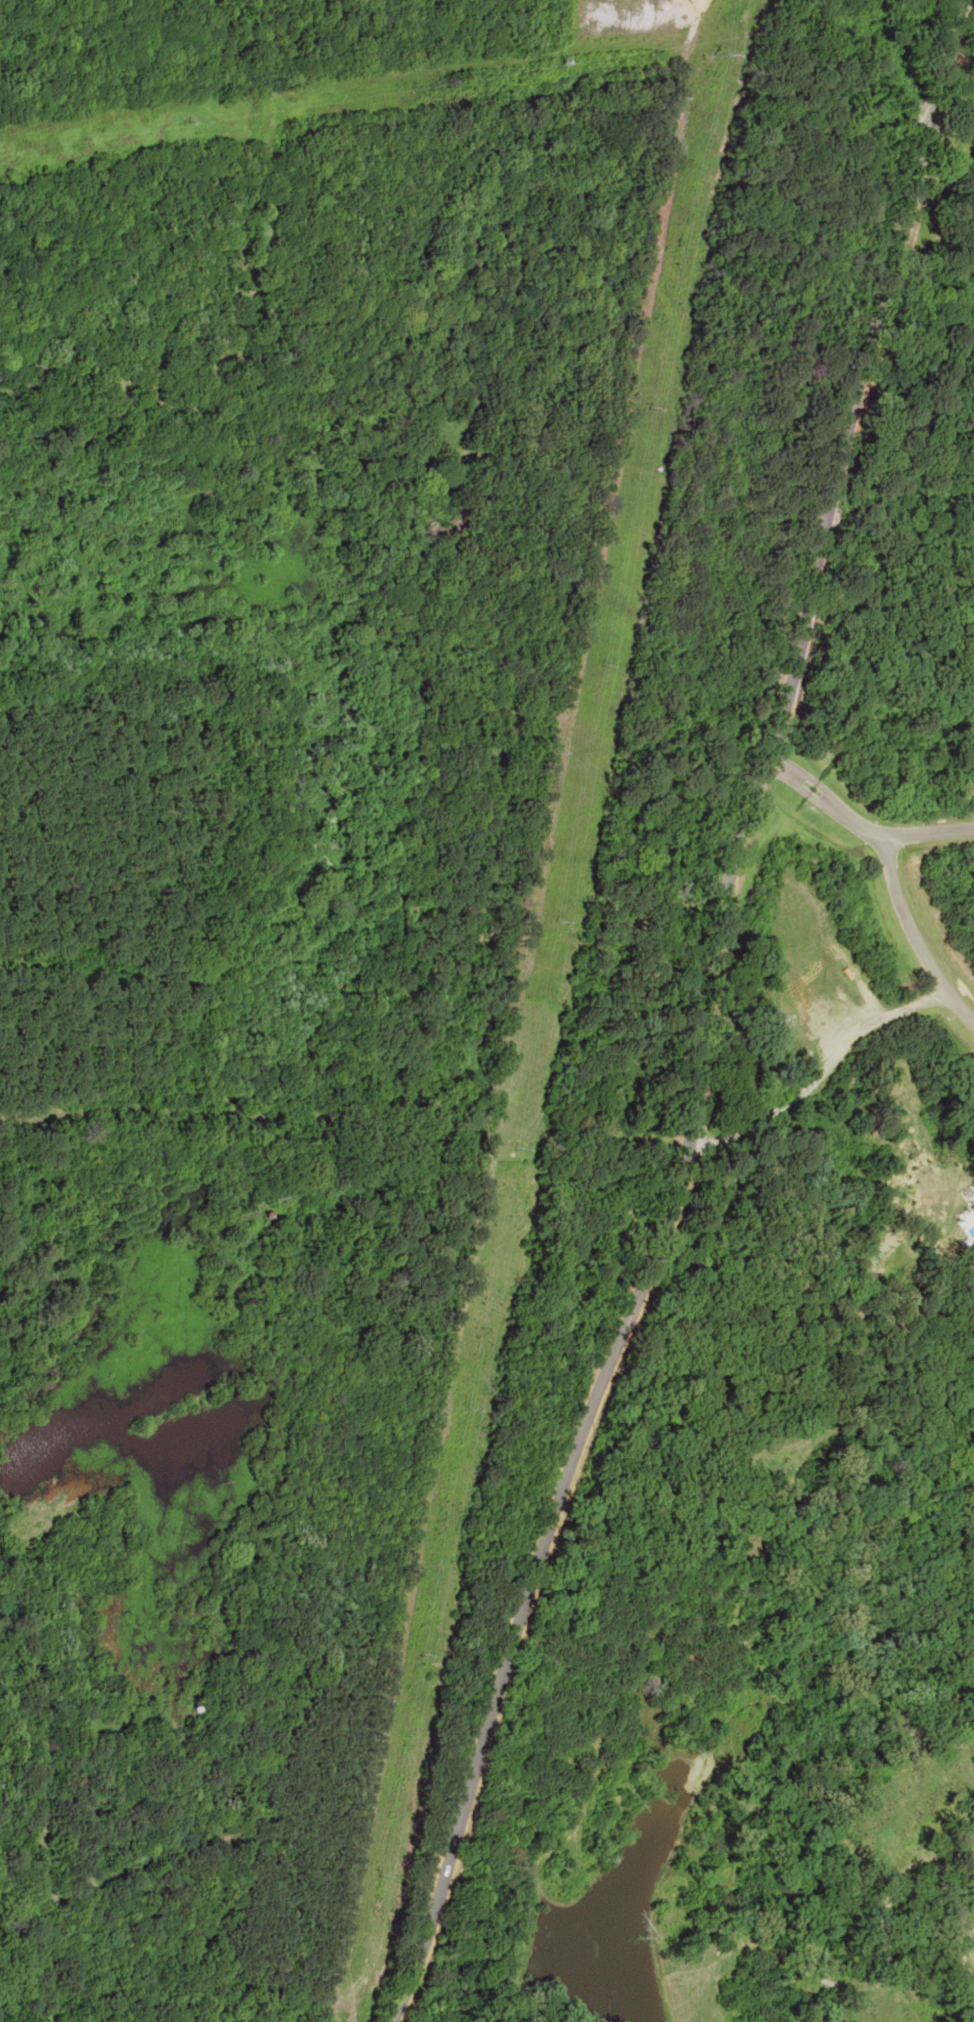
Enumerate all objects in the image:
road: (864, 822)
road: (919, 930)
road: (715, 1020)
road: (350, 1124)

